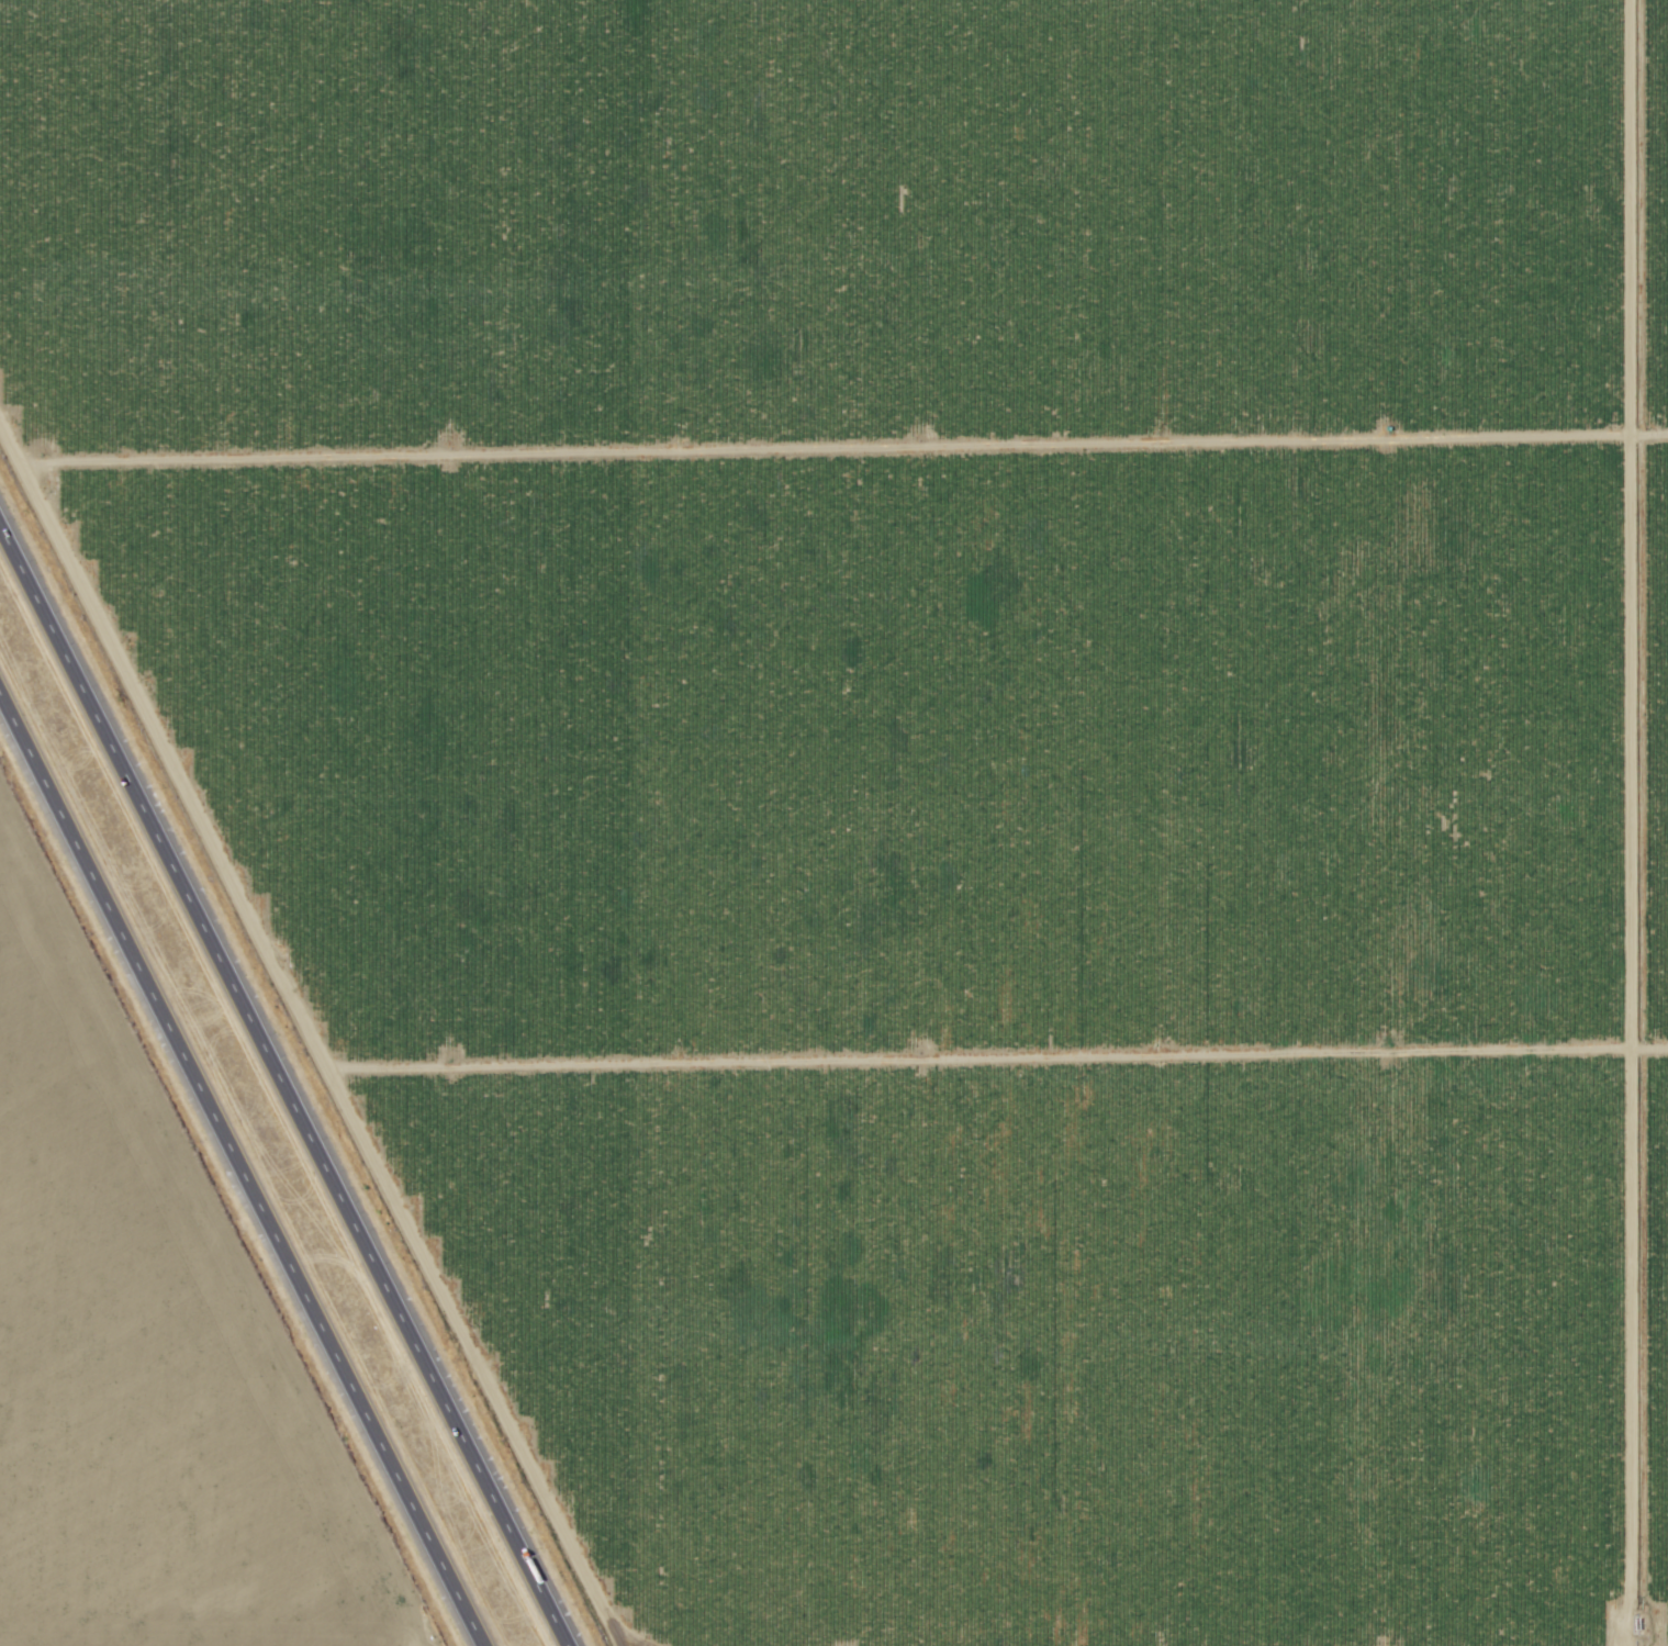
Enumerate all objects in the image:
crop: (897, 758)
crop: (1638, 825)
road: (284, 1080)
road: (240, 1173)
crop: (138, 1352)

